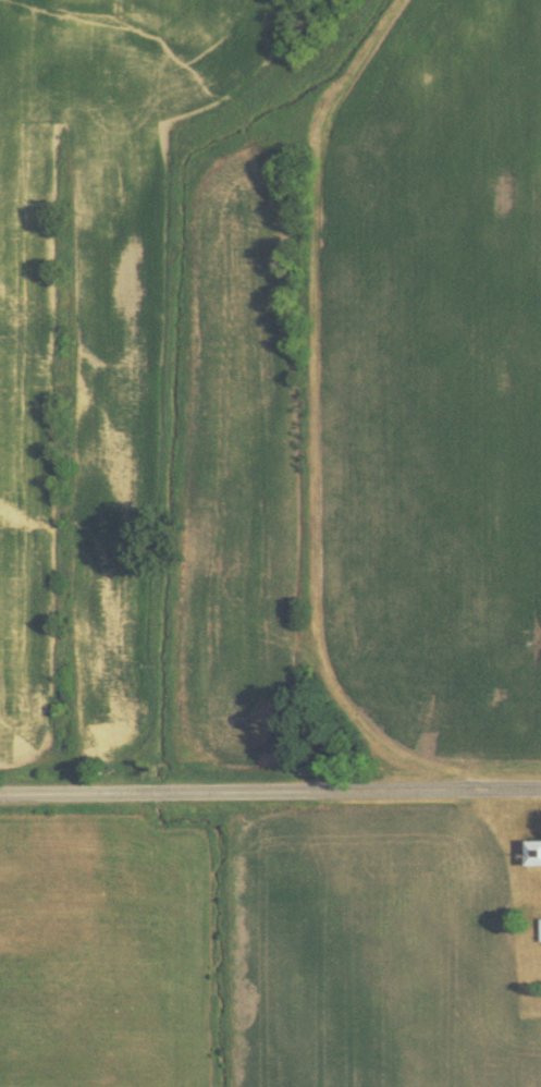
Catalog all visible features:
road: (270, 791)
building: (530, 850)

